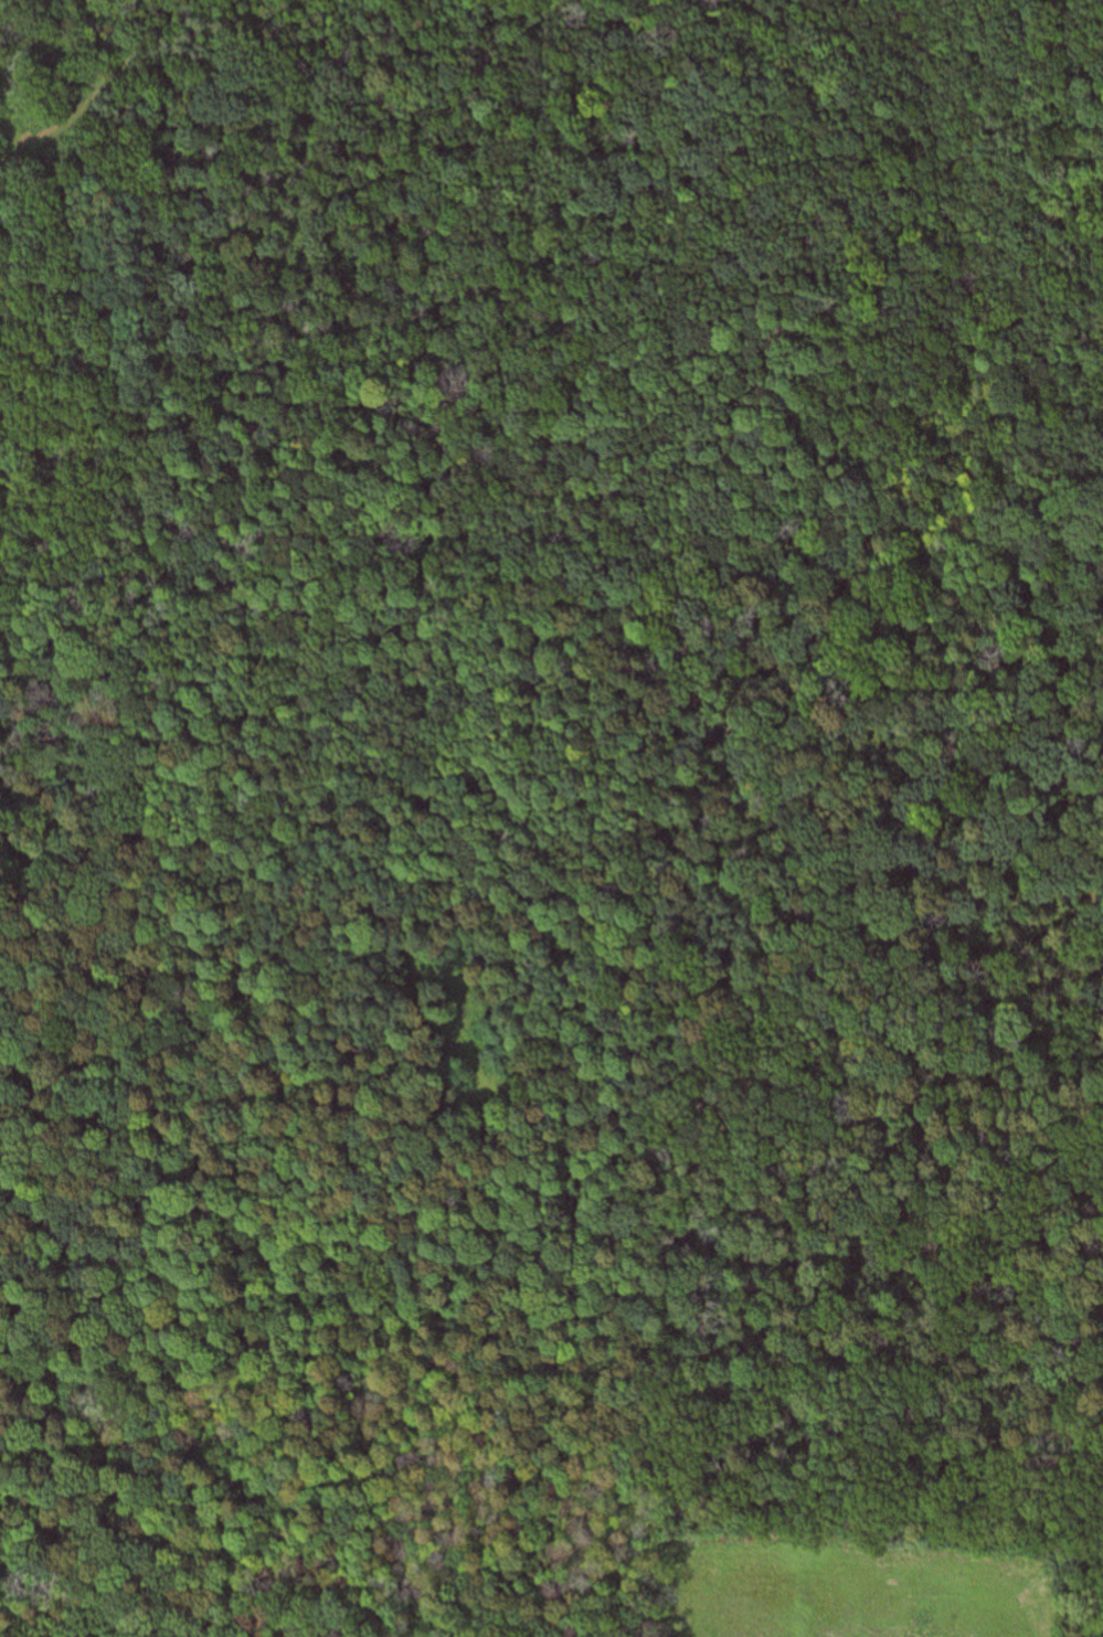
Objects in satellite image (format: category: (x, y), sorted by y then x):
road: (110, 76)
road: (25, 148)
road: (551, 570)
road: (906, 602)
road: (210, 605)
building: (510, 1065)
building: (476, 1095)
road: (803, 1392)

